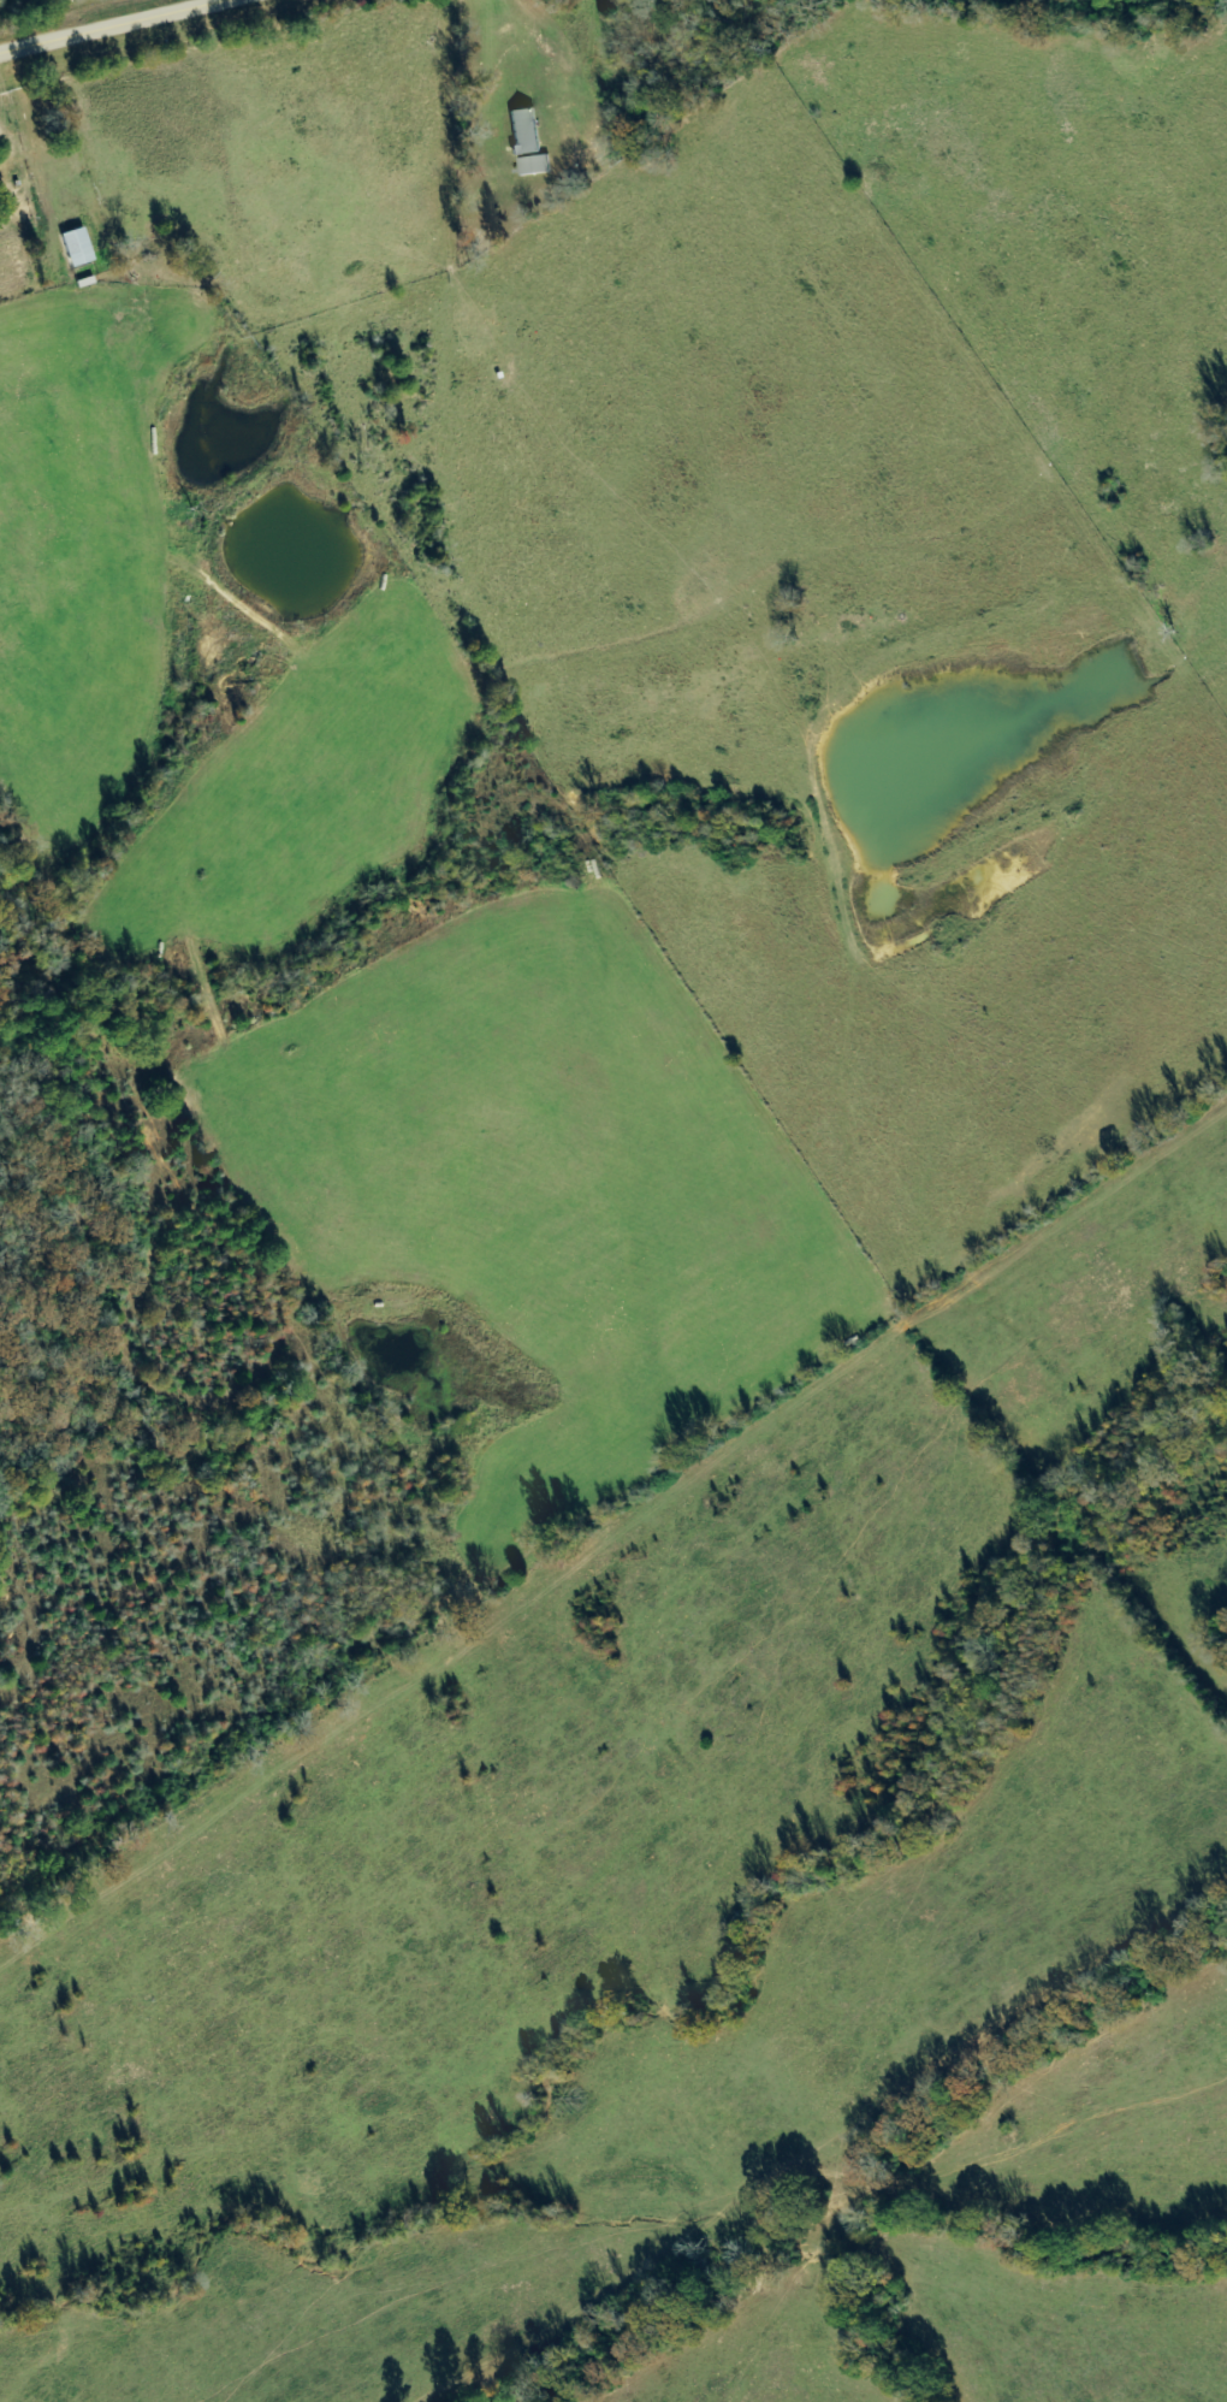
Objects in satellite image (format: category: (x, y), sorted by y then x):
road: (111, 25)
building: (524, 131)
building: (535, 164)
building: (76, 248)

